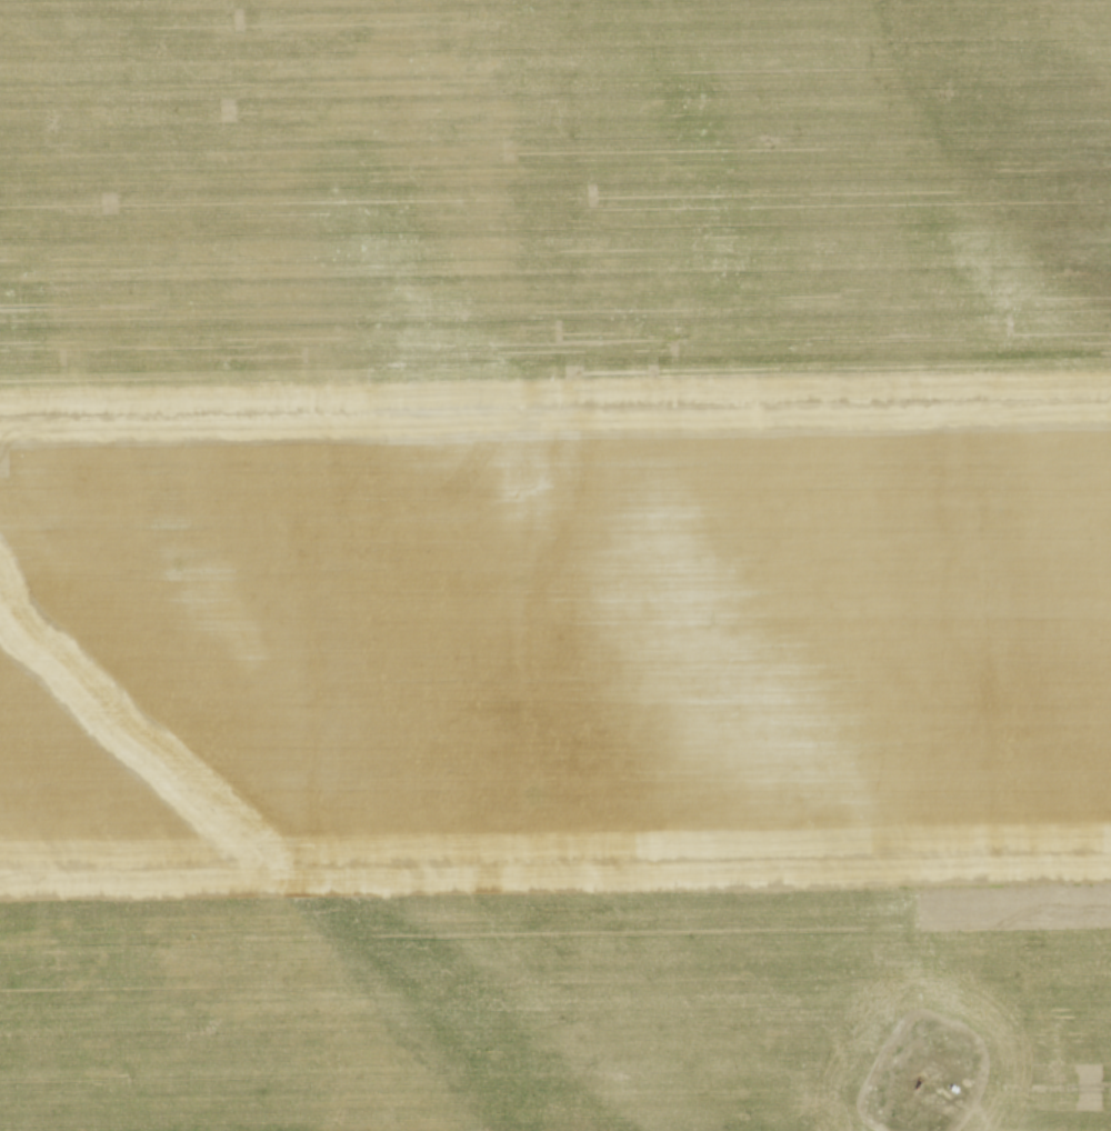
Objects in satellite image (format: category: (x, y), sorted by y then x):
crop: (554, 563)

